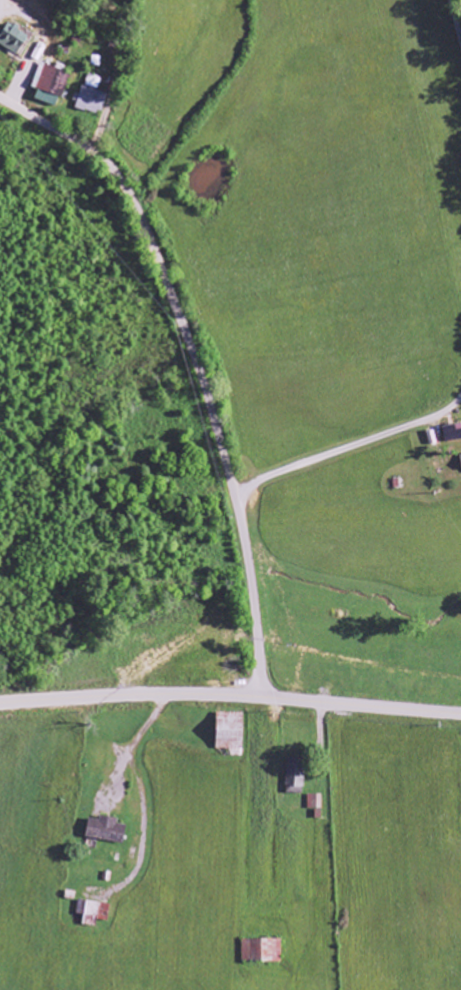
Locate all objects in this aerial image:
building: (13, 38)
building: (49, 84)
road: (195, 360)
building: (454, 433)
road: (230, 695)
building: (292, 773)
building: (107, 830)
building: (92, 911)
building: (261, 950)

